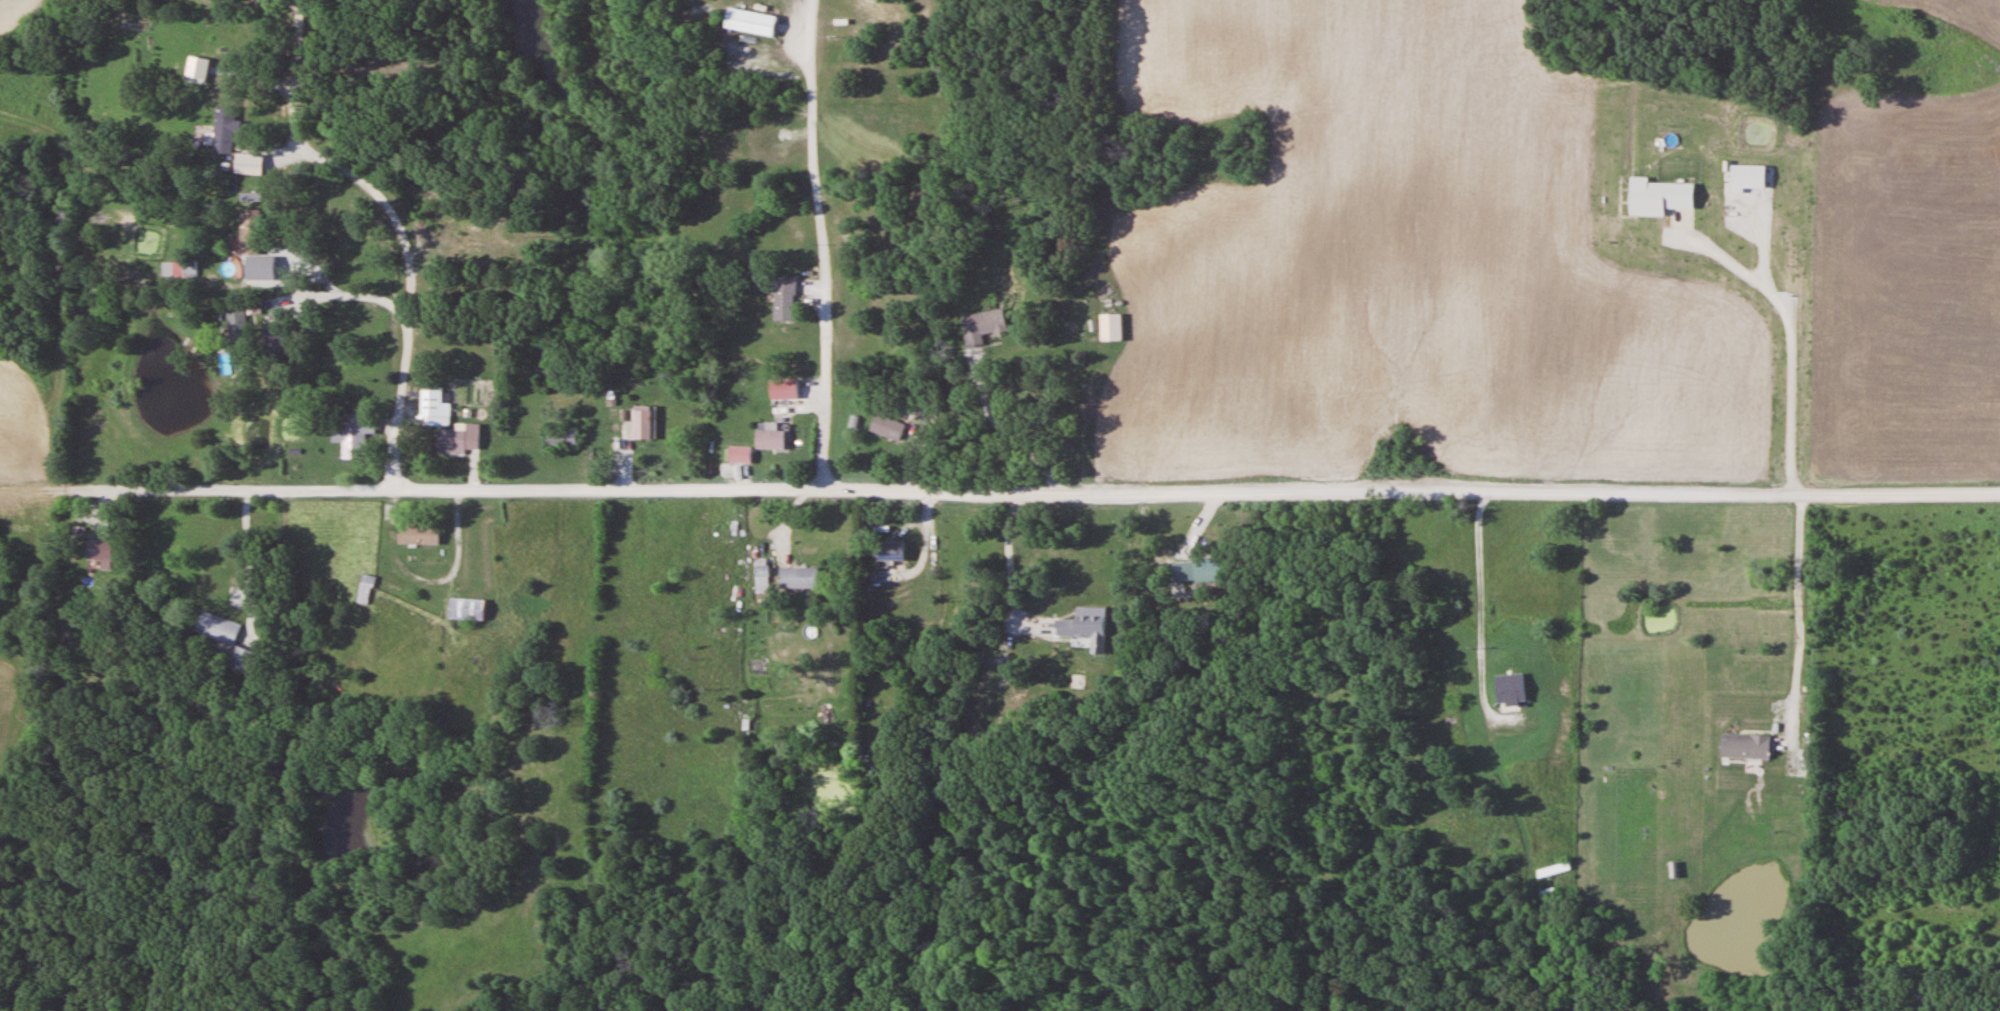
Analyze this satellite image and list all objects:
building: (753, 22)
road: (294, 47)
building: (227, 131)
building: (250, 163)
building: (251, 236)
road: (820, 244)
road: (405, 268)
road: (351, 299)
building: (789, 299)
building: (985, 326)
building: (1112, 327)
building: (240, 328)
building: (786, 389)
building: (435, 405)
building: (643, 424)
road: (999, 427)
building: (890, 428)
building: (562, 436)
building: (773, 438)
building: (459, 441)
building: (356, 442)
building: (742, 455)
road: (1034, 490)
building: (421, 536)
road: (245, 546)
building: (1763, 546)
building: (890, 549)
building: (105, 553)
road: (1011, 569)
building: (1213, 570)
building: (799, 577)
building: (367, 590)
road: (1477, 597)
building: (469, 610)
road: (1795, 614)
building: (1087, 627)
building: (219, 628)
building: (245, 660)
building: (1511, 691)
building: (1745, 747)
building: (1603, 757)
building: (1422, 772)
building: (1554, 870)
building: (1548, 893)

